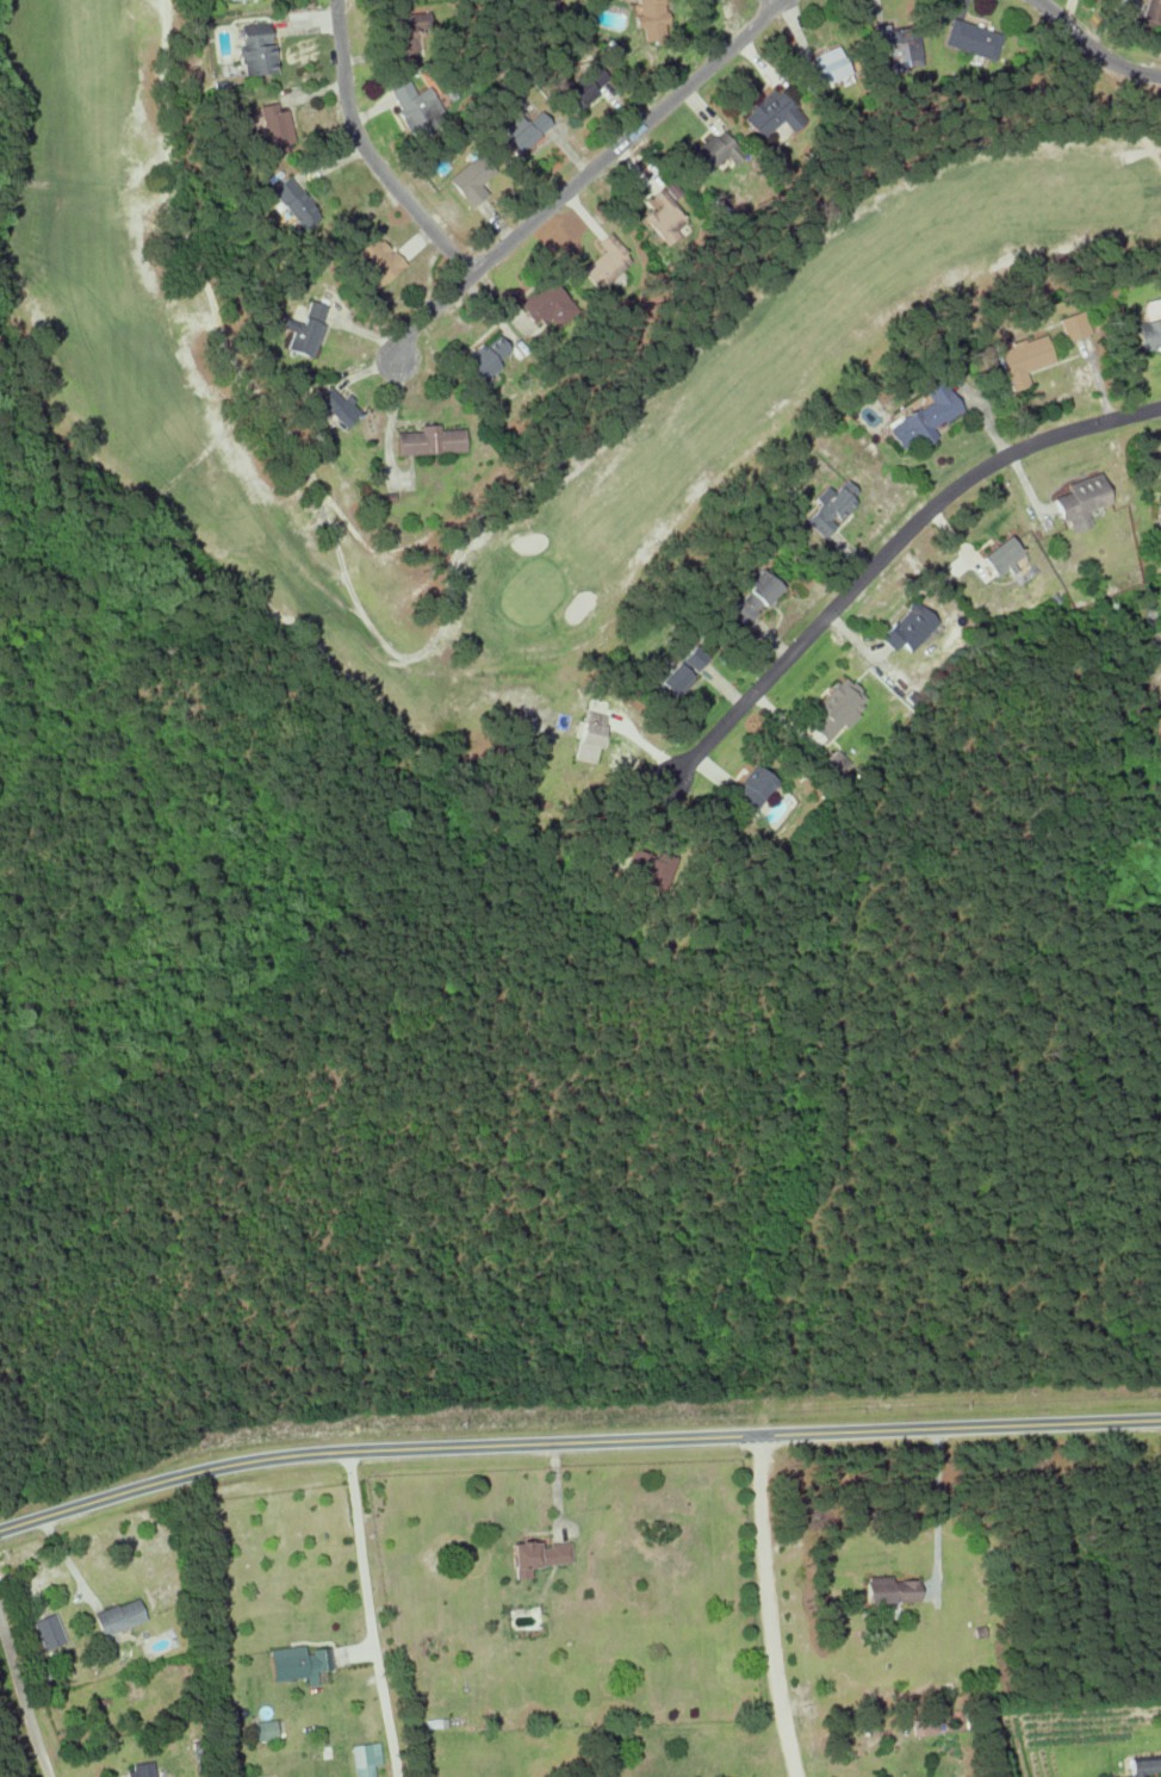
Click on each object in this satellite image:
building: (228, 0)
building: (619, 0)
building: (1156, 0)
building: (652, 19)
building: (405, 33)
building: (971, 38)
building: (900, 45)
road: (1093, 46)
building: (255, 49)
building: (830, 64)
building: (583, 86)
building: (416, 108)
building: (771, 113)
building: (275, 126)
building: (524, 130)
building: (712, 154)
road: (366, 155)
building: (472, 180)
road: (565, 191)
building: (293, 203)
building: (664, 216)
building: (377, 260)
building: (606, 261)
building: (546, 303)
building: (1074, 324)
building: (304, 330)
building: (1149, 334)
building: (485, 358)
building: (1023, 359)
building: (335, 408)
building: (925, 415)
building: (430, 440)
building: (1080, 501)
building: (831, 509)
building: (1159, 512)
building: (1000, 554)
road: (877, 565)
building: (755, 596)
building: (908, 627)
building: (679, 672)
building: (837, 707)
building: (589, 737)
building: (834, 763)
building: (752, 789)
building: (647, 866)
road: (575, 1440)
building: (536, 1555)
building: (889, 1591)
road: (769, 1605)
road: (367, 1611)
building: (118, 1616)
building: (48, 1630)
building: (298, 1663)
road: (23, 1700)
building: (924, 1726)
building: (265, 1729)
building: (365, 1758)
building: (1142, 1766)
building: (139, 1770)

